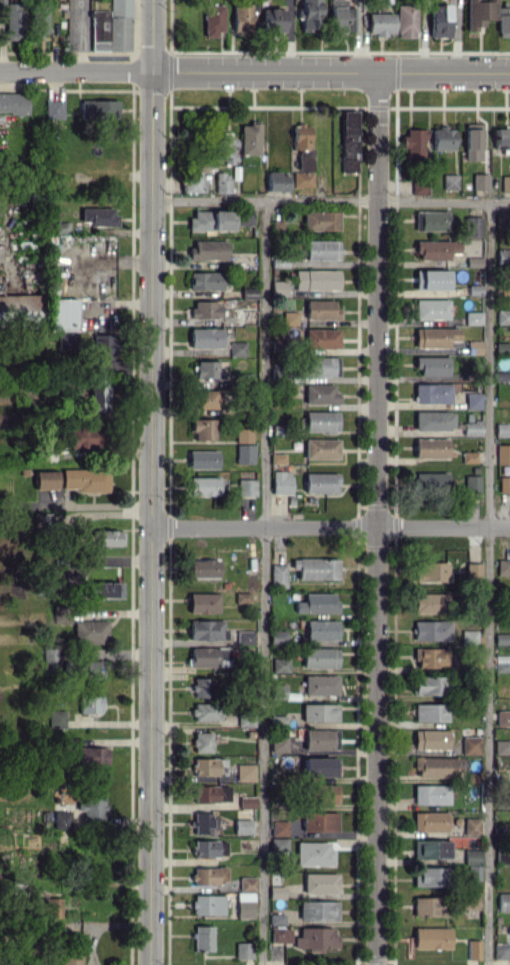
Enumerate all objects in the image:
building: (310, 15)
building: (242, 17)
building: (342, 17)
building: (213, 19)
building: (273, 19)
building: (405, 20)
building: (440, 20)
building: (503, 21)
building: (380, 23)
building: (112, 27)
road: (76, 71)
road: (331, 71)
building: (13, 102)
building: (99, 109)
building: (54, 110)
building: (301, 136)
building: (250, 138)
building: (443, 138)
building: (502, 138)
building: (348, 141)
building: (472, 141)
building: (415, 144)
building: (227, 148)
building: (303, 179)
building: (277, 181)
building: (450, 181)
building: (480, 181)
building: (194, 182)
building: (222, 182)
building: (505, 183)
road: (331, 200)
building: (99, 216)
building: (211, 220)
building: (244, 220)
building: (321, 220)
building: (431, 220)
building: (472, 226)
building: (208, 249)
building: (321, 249)
building: (436, 249)
building: (503, 255)
building: (431, 279)
building: (205, 280)
building: (314, 280)
building: (279, 288)
building: (20, 307)
building: (431, 308)
building: (321, 309)
building: (204, 310)
building: (63, 314)
building: (293, 316)
building: (503, 316)
building: (249, 317)
building: (473, 317)
building: (206, 337)
building: (435, 337)
building: (322, 338)
building: (75, 339)
building: (474, 347)
building: (237, 348)
building: (432, 365)
building: (323, 366)
building: (210, 368)
building: (432, 393)
building: (98, 394)
building: (320, 394)
building: (206, 399)
building: (473, 400)
building: (434, 420)
building: (321, 421)
building: (471, 427)
building: (203, 428)
building: (502, 429)
building: (243, 434)
building: (82, 437)
building: (321, 448)
building: (431, 448)
building: (244, 453)
building: (503, 454)
building: (469, 456)
building: (277, 458)
building: (202, 459)
building: (45, 479)
building: (84, 479)
building: (430, 480)
road: (151, 482)
building: (281, 482)
building: (321, 482)
building: (504, 483)
building: (472, 484)
building: (204, 486)
building: (246, 487)
road: (376, 517)
building: (43, 521)
road: (330, 527)
building: (110, 537)
building: (503, 567)
building: (203, 568)
building: (316, 568)
building: (431, 571)
building: (473, 571)
building: (278, 574)
road: (263, 582)
road: (489, 582)
building: (44, 584)
building: (106, 589)
building: (241, 597)
building: (203, 602)
building: (430, 602)
building: (317, 603)
building: (321, 629)
building: (206, 630)
building: (431, 630)
building: (90, 631)
building: (245, 636)
building: (469, 636)
building: (209, 656)
building: (319, 657)
building: (431, 657)
building: (501, 663)
building: (279, 664)
building: (89, 669)
building: (321, 684)
building: (427, 685)
building: (204, 687)
building: (278, 691)
building: (93, 706)
building: (319, 712)
building: (430, 712)
building: (503, 717)
building: (56, 718)
building: (320, 739)
building: (430, 739)
building: (203, 741)
building: (279, 743)
building: (471, 745)
building: (502, 746)
building: (85, 754)
building: (320, 766)
building: (437, 766)
building: (245, 772)
building: (210, 793)
building: (324, 794)
building: (431, 794)
building: (247, 802)
building: (91, 805)
building: (64, 819)
building: (319, 821)
building: (430, 821)
building: (204, 822)
building: (242, 826)
building: (471, 826)
building: (278, 827)
building: (279, 844)
building: (209, 848)
building: (430, 849)
building: (314, 853)
building: (474, 872)
building: (209, 875)
building: (428, 876)
building: (320, 882)
building: (247, 883)
building: (276, 891)
building: (470, 900)
building: (503, 901)
building: (207, 904)
building: (426, 906)
building: (51, 907)
building: (244, 907)
building: (318, 910)
building: (276, 918)
building: (280, 934)
building: (202, 938)
building: (316, 938)
building: (431, 938)
building: (243, 950)
building: (501, 950)
building: (71, 955)

